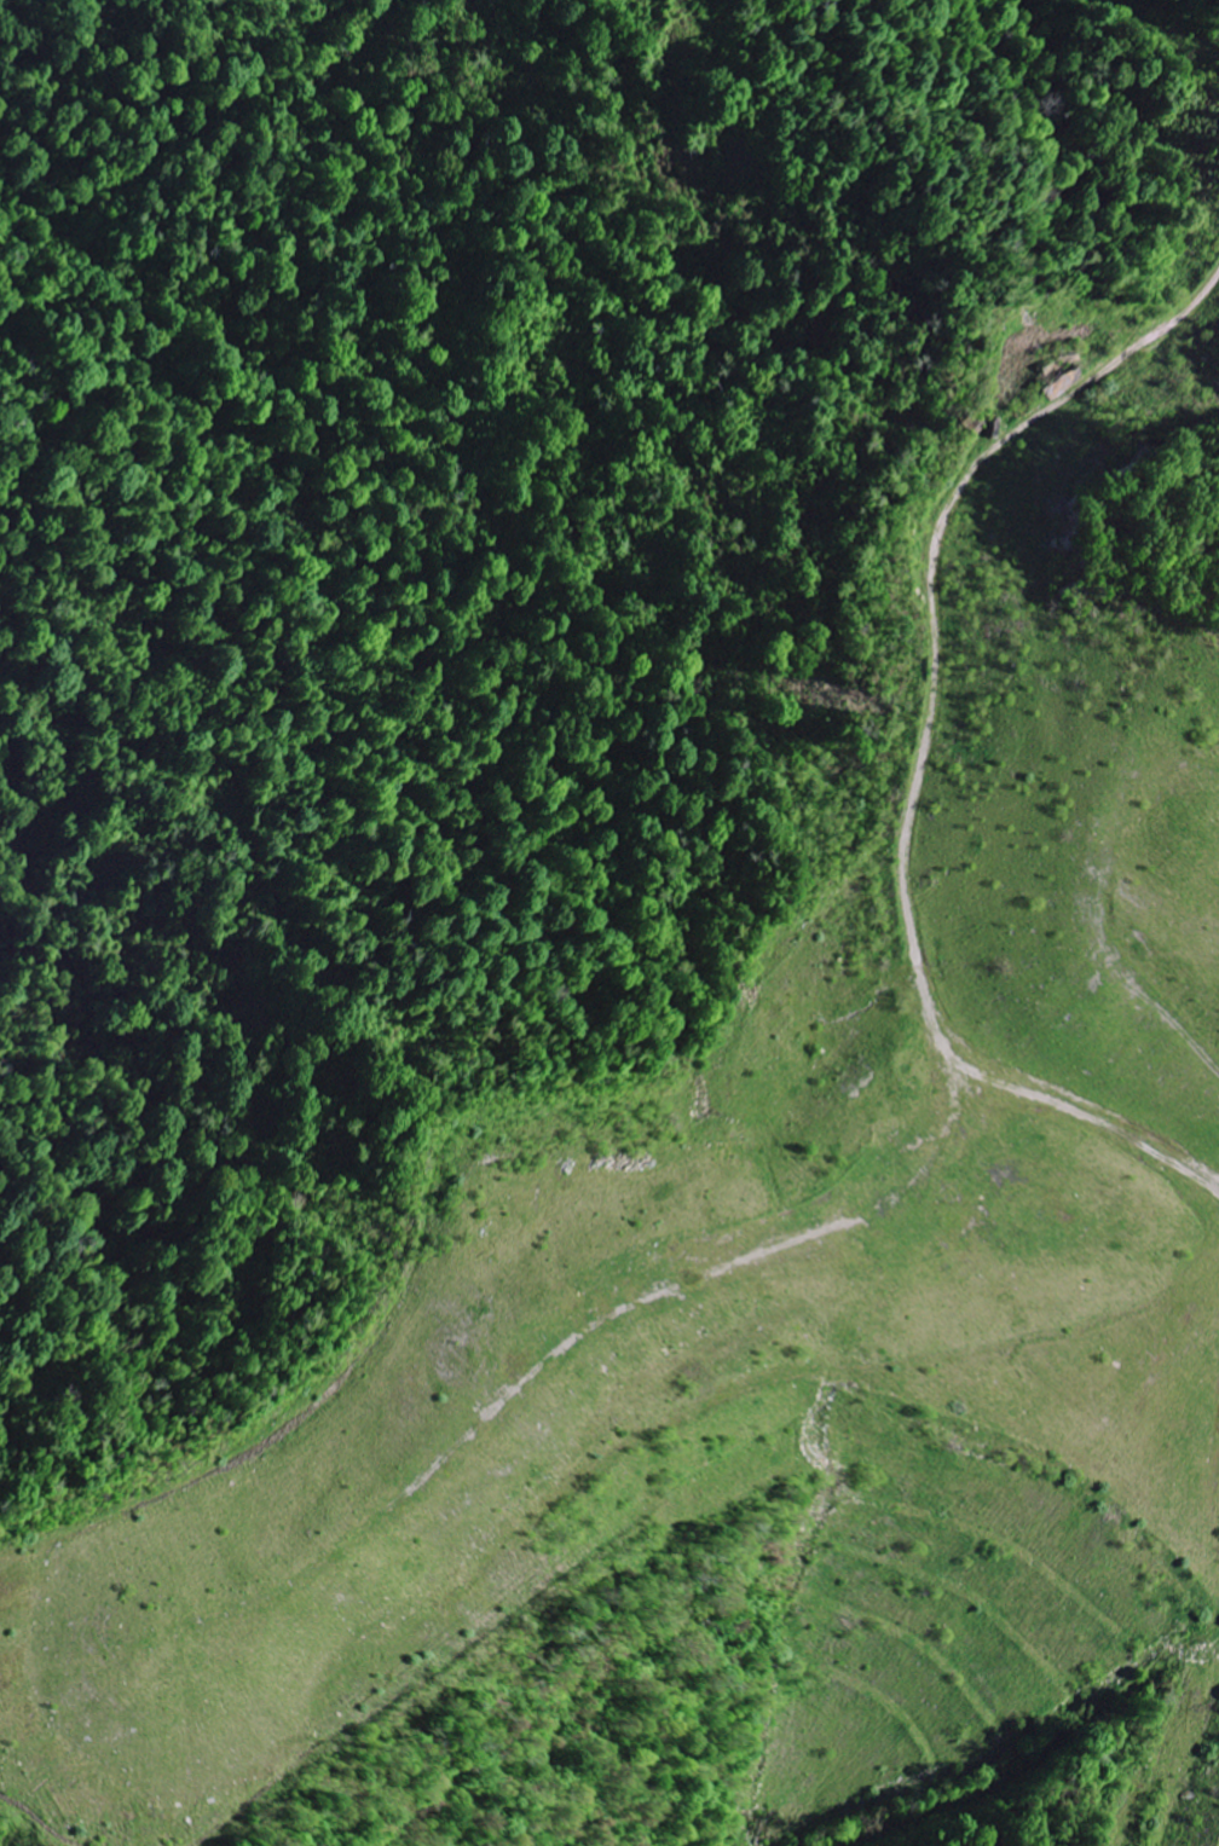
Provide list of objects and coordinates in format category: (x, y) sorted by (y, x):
road: (1119, 543)

